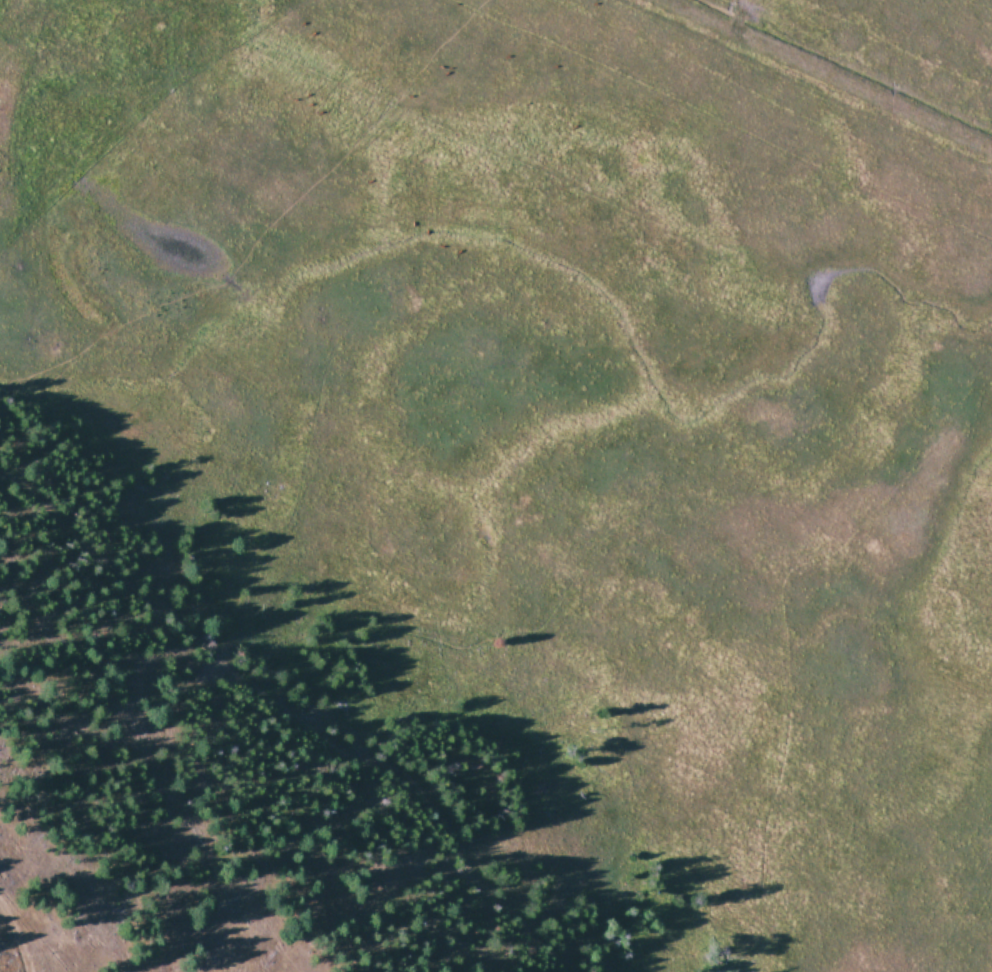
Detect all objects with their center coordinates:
road: (48, 887)

